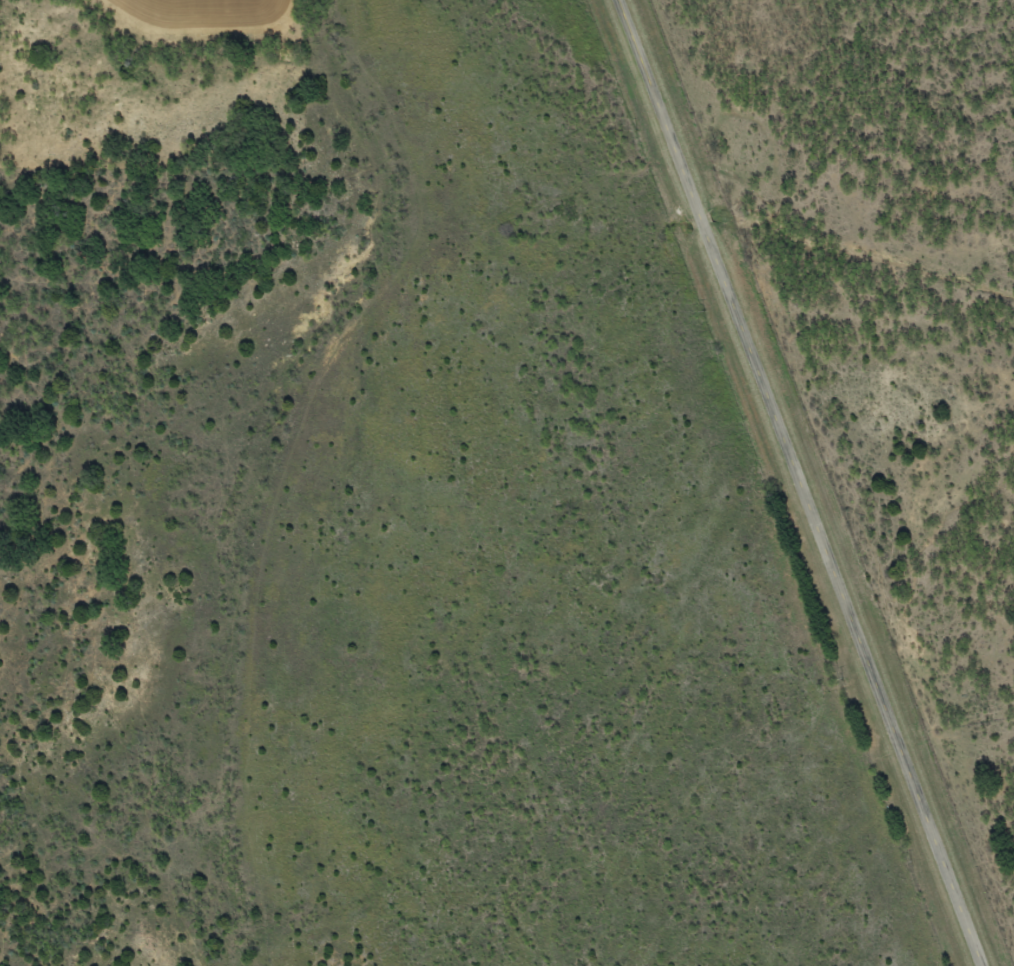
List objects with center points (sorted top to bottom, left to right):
road: (802, 483)

